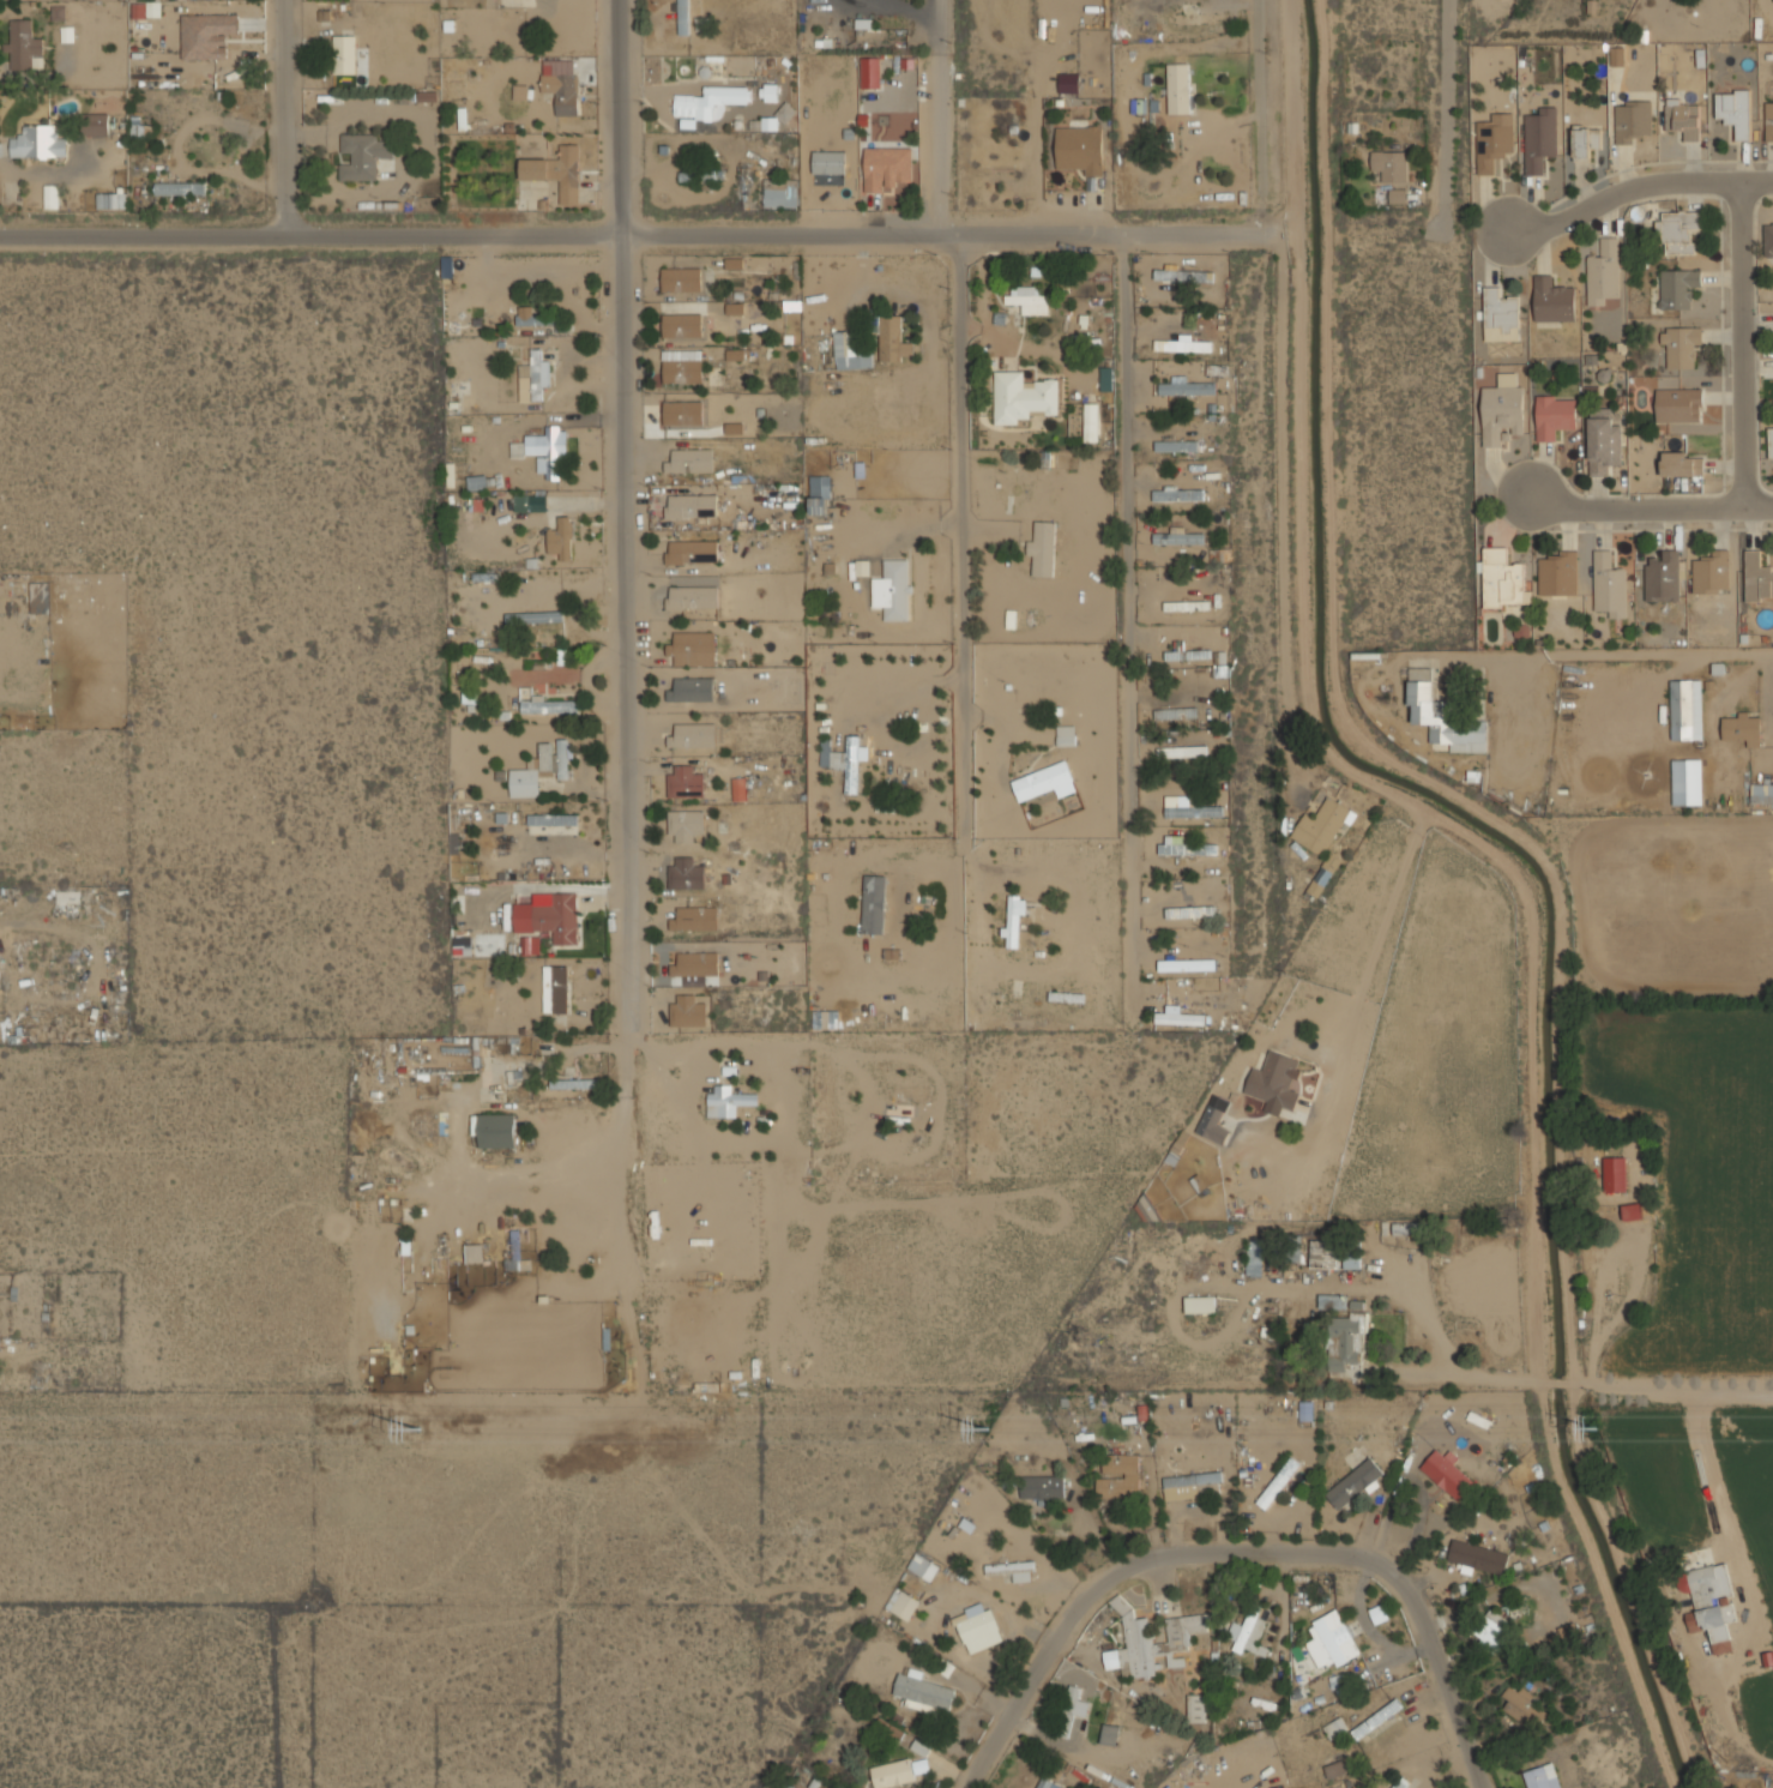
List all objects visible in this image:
building: (146, 8)
road: (895, 8)
building: (58, 11)
building: (1206, 16)
building: (683, 17)
building: (206, 35)
building: (24, 46)
building: (344, 54)
building: (1617, 55)
building: (1068, 83)
building: (560, 84)
building: (1178, 89)
building: (519, 91)
building: (708, 102)
building: (1733, 110)
road: (1443, 112)
road: (1259, 114)
road: (936, 116)
road: (282, 118)
building: (1682, 119)
building: (1768, 119)
building: (1632, 120)
building: (95, 124)
building: (1540, 139)
building: (1585, 140)
building: (1494, 142)
building: (37, 143)
building: (1079, 149)
building: (362, 156)
building: (1391, 164)
building: (886, 167)
building: (556, 171)
building: (180, 188)
road: (1636, 191)
building: (779, 194)
building: (50, 195)
building: (1398, 195)
building: (110, 200)
road: (639, 231)
building: (1677, 231)
building: (1768, 240)
building: (734, 263)
building: (1604, 272)
building: (681, 279)
building: (1677, 288)
building: (1030, 300)
building: (1552, 300)
building: (735, 308)
building: (1500, 311)
building: (529, 317)
building: (681, 325)
building: (892, 339)
building: (1182, 344)
road: (1742, 347)
building: (1681, 348)
building: (850, 351)
building: (735, 354)
building: (682, 367)
building: (533, 377)
building: (1105, 379)
building: (1187, 389)
building: (1021, 397)
building: (1678, 405)
building: (682, 413)
building: (1501, 413)
building: (1554, 415)
building: (1090, 422)
building: (734, 428)
building: (1604, 444)
building: (1771, 444)
building: (1170, 446)
building: (517, 448)
building: (548, 448)
building: (689, 460)
building: (1682, 463)
building: (478, 481)
building: (819, 494)
building: (1174, 494)
road: (628, 500)
road: (1283, 502)
building: (692, 506)
road: (1650, 508)
building: (1178, 537)
building: (561, 538)
road: (960, 538)
building: (1042, 548)
building: (692, 552)
building: (1557, 573)
building: (1712, 574)
building: (1662, 578)
building: (1756, 578)
building: (1501, 579)
building: (1609, 584)
building: (892, 590)
building: (38, 594)
building: (692, 597)
building: (533, 616)
road: (1126, 625)
building: (692, 649)
building: (1178, 651)
road: (1594, 654)
building: (1198, 655)
building: (692, 690)
building: (548, 705)
building: (1429, 706)
building: (1682, 708)
building: (1170, 714)
building: (1742, 726)
building: (693, 735)
building: (1066, 735)
building: (1181, 751)
building: (555, 758)
building: (842, 760)
building: (524, 782)
building: (685, 782)
building: (1044, 782)
building: (1685, 782)
building: (738, 789)
building: (1761, 793)
building: (1188, 808)
building: (553, 824)
building: (686, 824)
building: (1322, 825)
building: (1184, 847)
building: (686, 874)
building: (1323, 874)
building: (873, 904)
building: (550, 917)
building: (694, 919)
building: (1012, 922)
building: (530, 945)
building: (466, 947)
building: (695, 964)
building: (1186, 965)
building: (555, 988)
building: (687, 1011)
building: (1171, 1018)
building: (1276, 1080)
building: (573, 1084)
building: (728, 1101)
building: (1213, 1120)
building: (496, 1131)
building: (1178, 1148)
building: (1615, 1174)
crop: (1695, 1178)
building: (474, 1253)
building: (1323, 1259)
building: (515, 1262)
building: (1200, 1305)
building: (1345, 1345)
building: (1305, 1410)
power tower: (987, 1428)
power tower: (1597, 1428)
power tower: (421, 1431)
road: (1708, 1468)
building: (1447, 1474)
building: (1118, 1476)
building: (1278, 1482)
building: (1187, 1485)
building: (1353, 1486)
building: (1042, 1487)
road: (1246, 1553)
building: (1478, 1558)
building: (923, 1566)
building: (1013, 1570)
building: (1706, 1599)
building: (901, 1603)
building: (1249, 1630)
building: (1492, 1630)
building: (978, 1631)
building: (1566, 1631)
building: (1136, 1638)
building: (1331, 1640)
building: (923, 1692)
building: (1075, 1703)
building: (1524, 1706)
building: (1196, 1708)
building: (1376, 1718)
building: (1335, 1728)
building: (1109, 1734)
building: (919, 1765)
building: (1334, 1769)
building: (892, 1774)
building: (1540, 1777)
building: (1048, 1783)
building: (1400, 1783)

